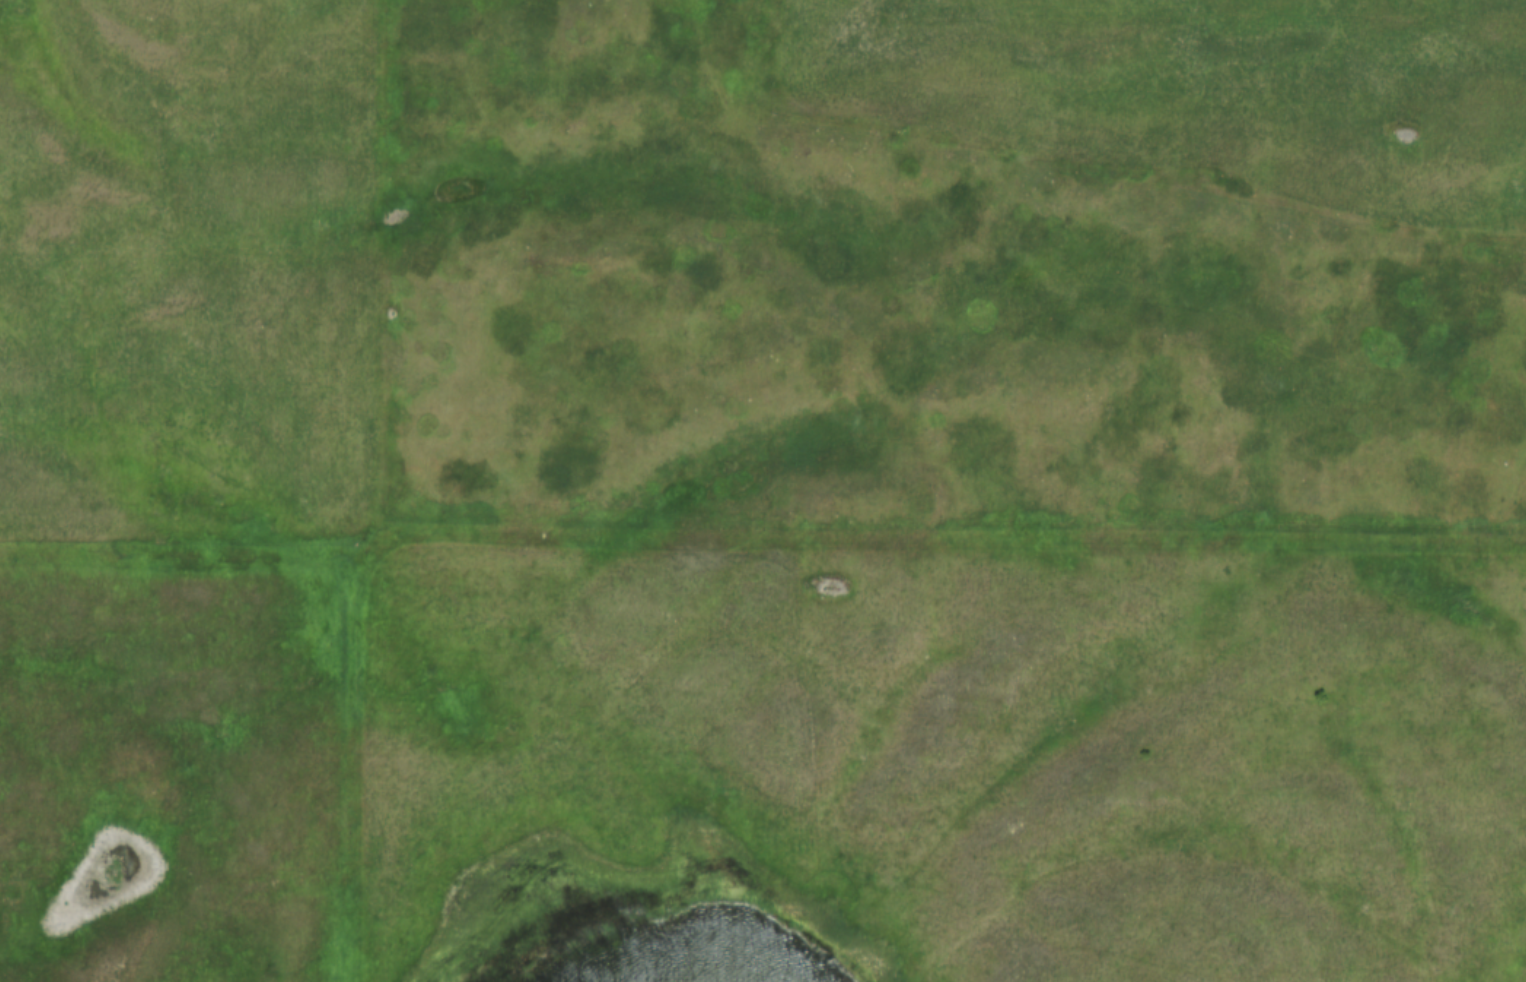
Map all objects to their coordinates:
road: (215, 560)

